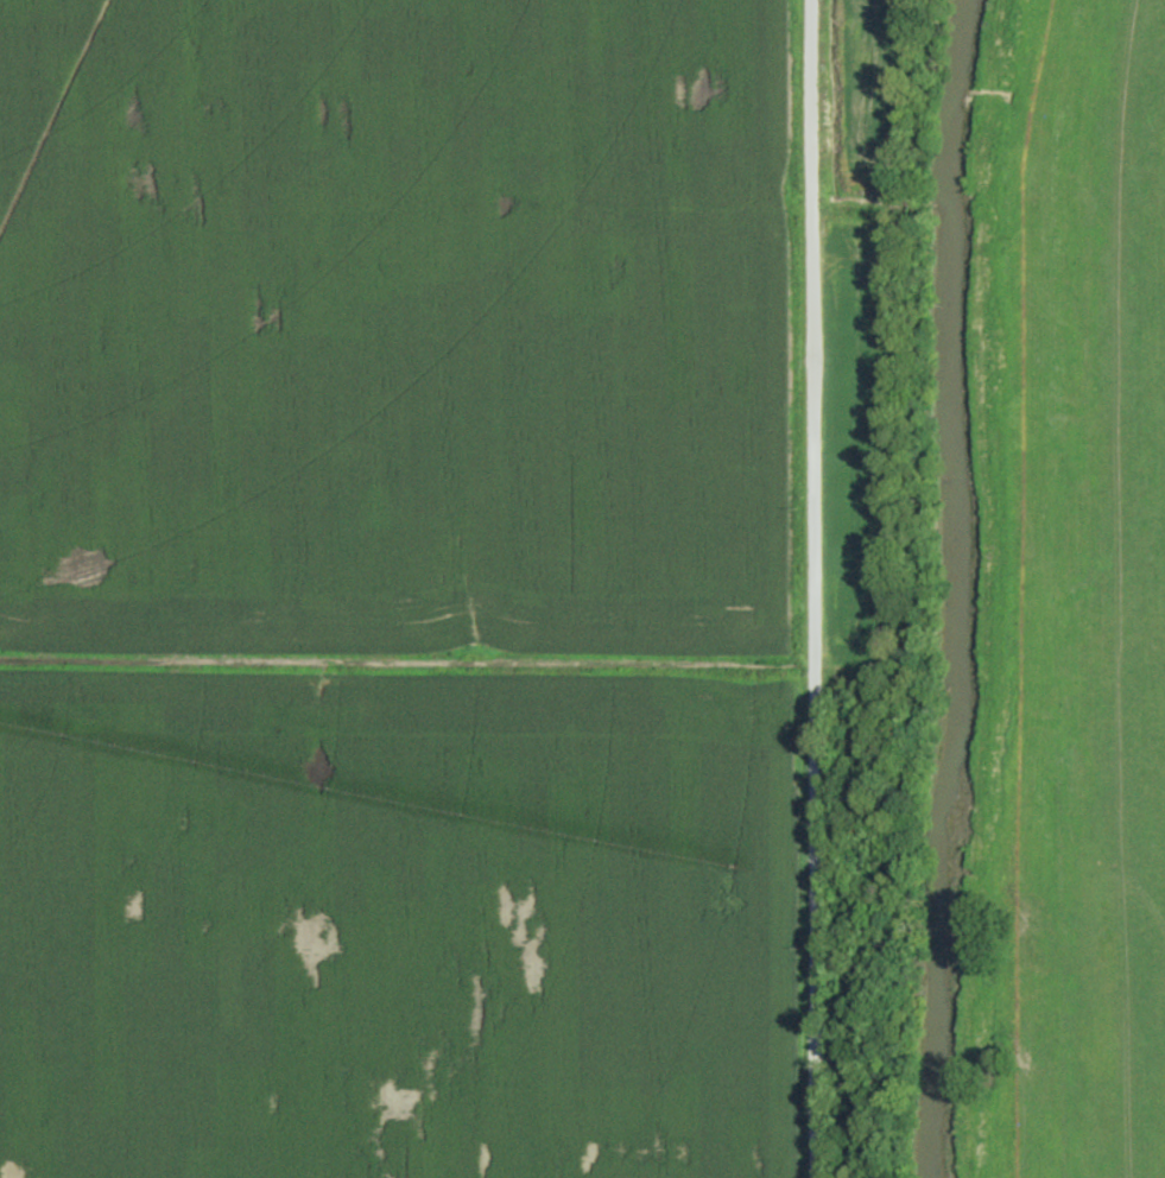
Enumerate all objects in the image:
road: (815, 589)

